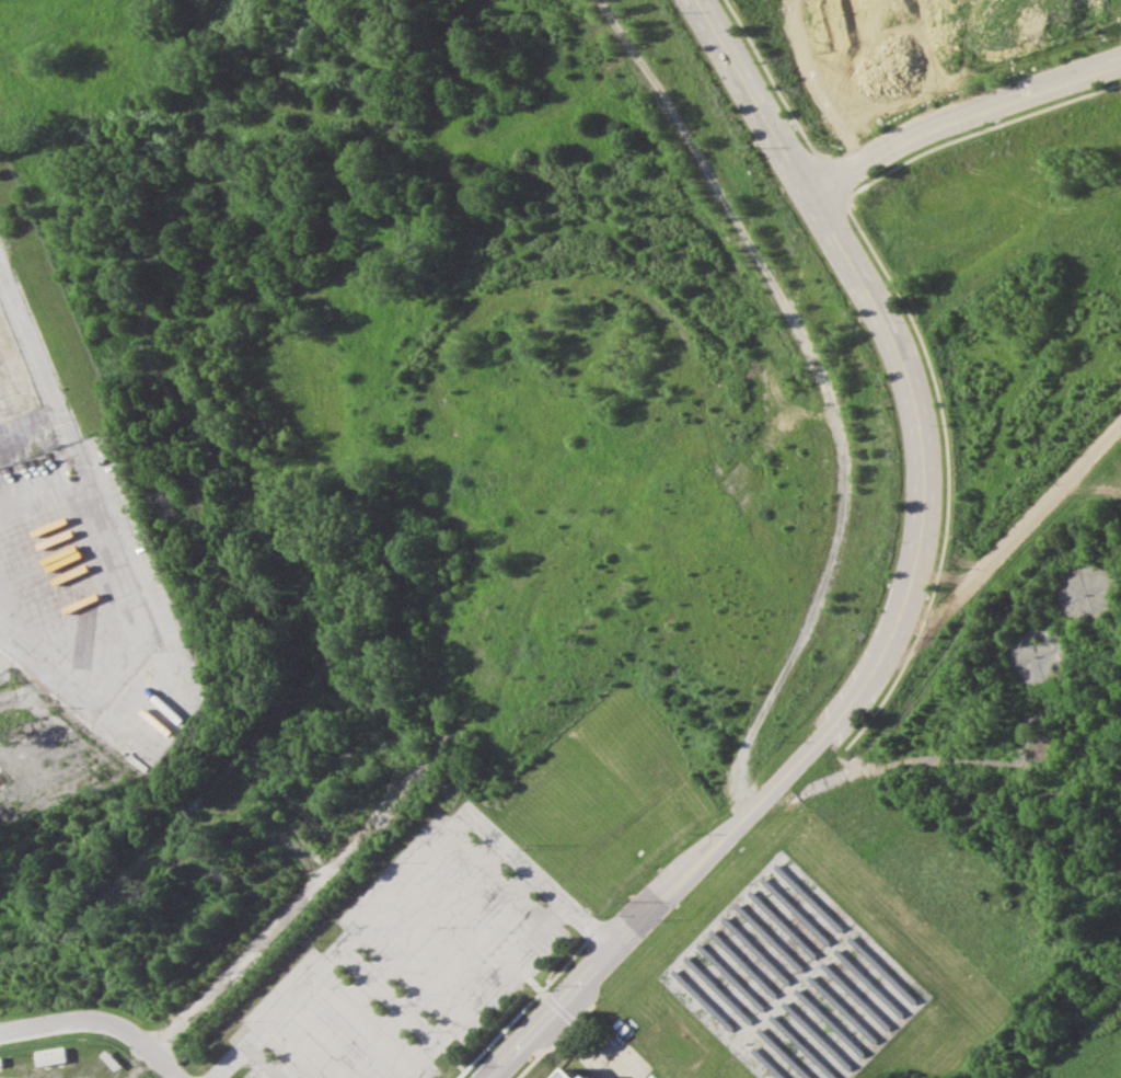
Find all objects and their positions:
road: (752, 94)
road: (961, 115)
road: (30, 345)
road: (857, 689)
road: (928, 767)
road: (405, 872)
road: (385, 959)
parking lot: (408, 960)
road: (434, 975)
road: (478, 989)
road: (385, 991)
road: (96, 1020)
building: (48, 1056)
road: (257, 1060)
building: (569, 1074)
building: (590, 1076)

